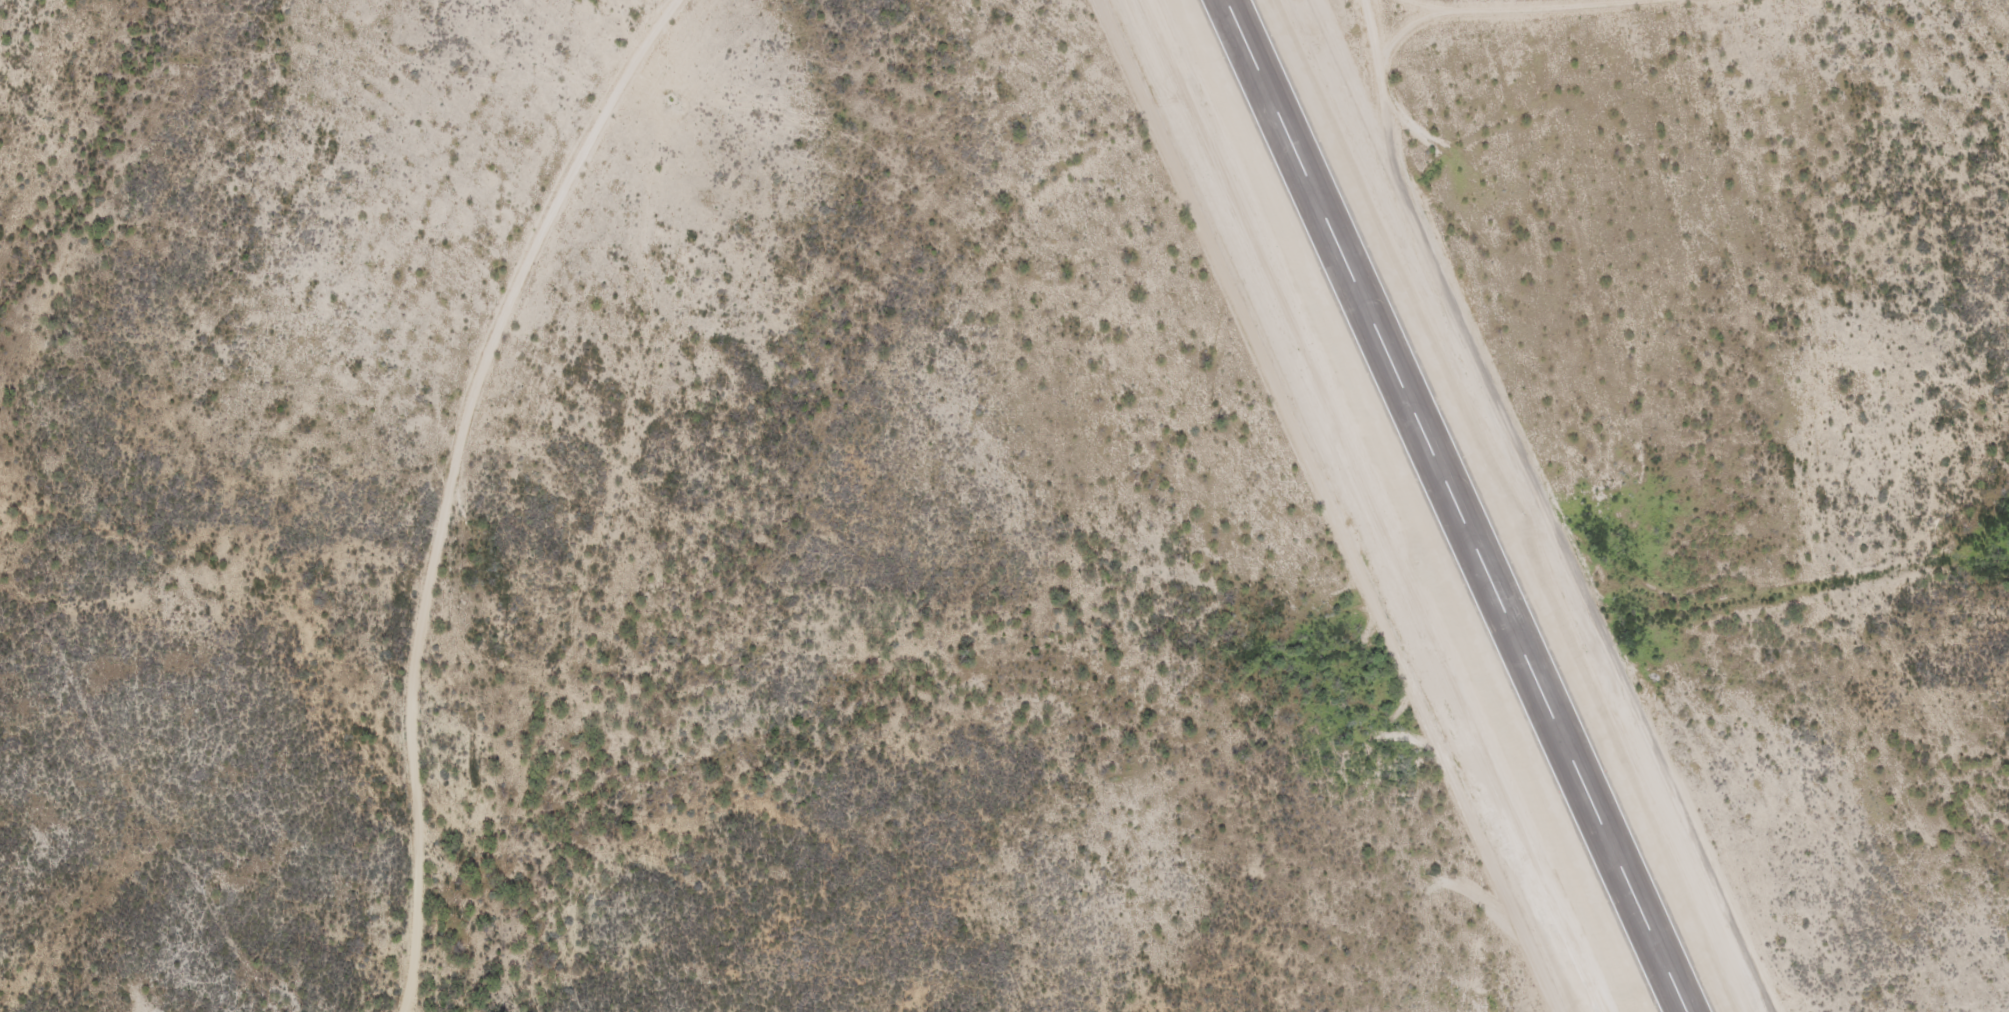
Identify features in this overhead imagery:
road: (1536, 7)
road: (1406, 167)
road: (455, 481)
airport runway: (1450, 506)
road: (1609, 672)

